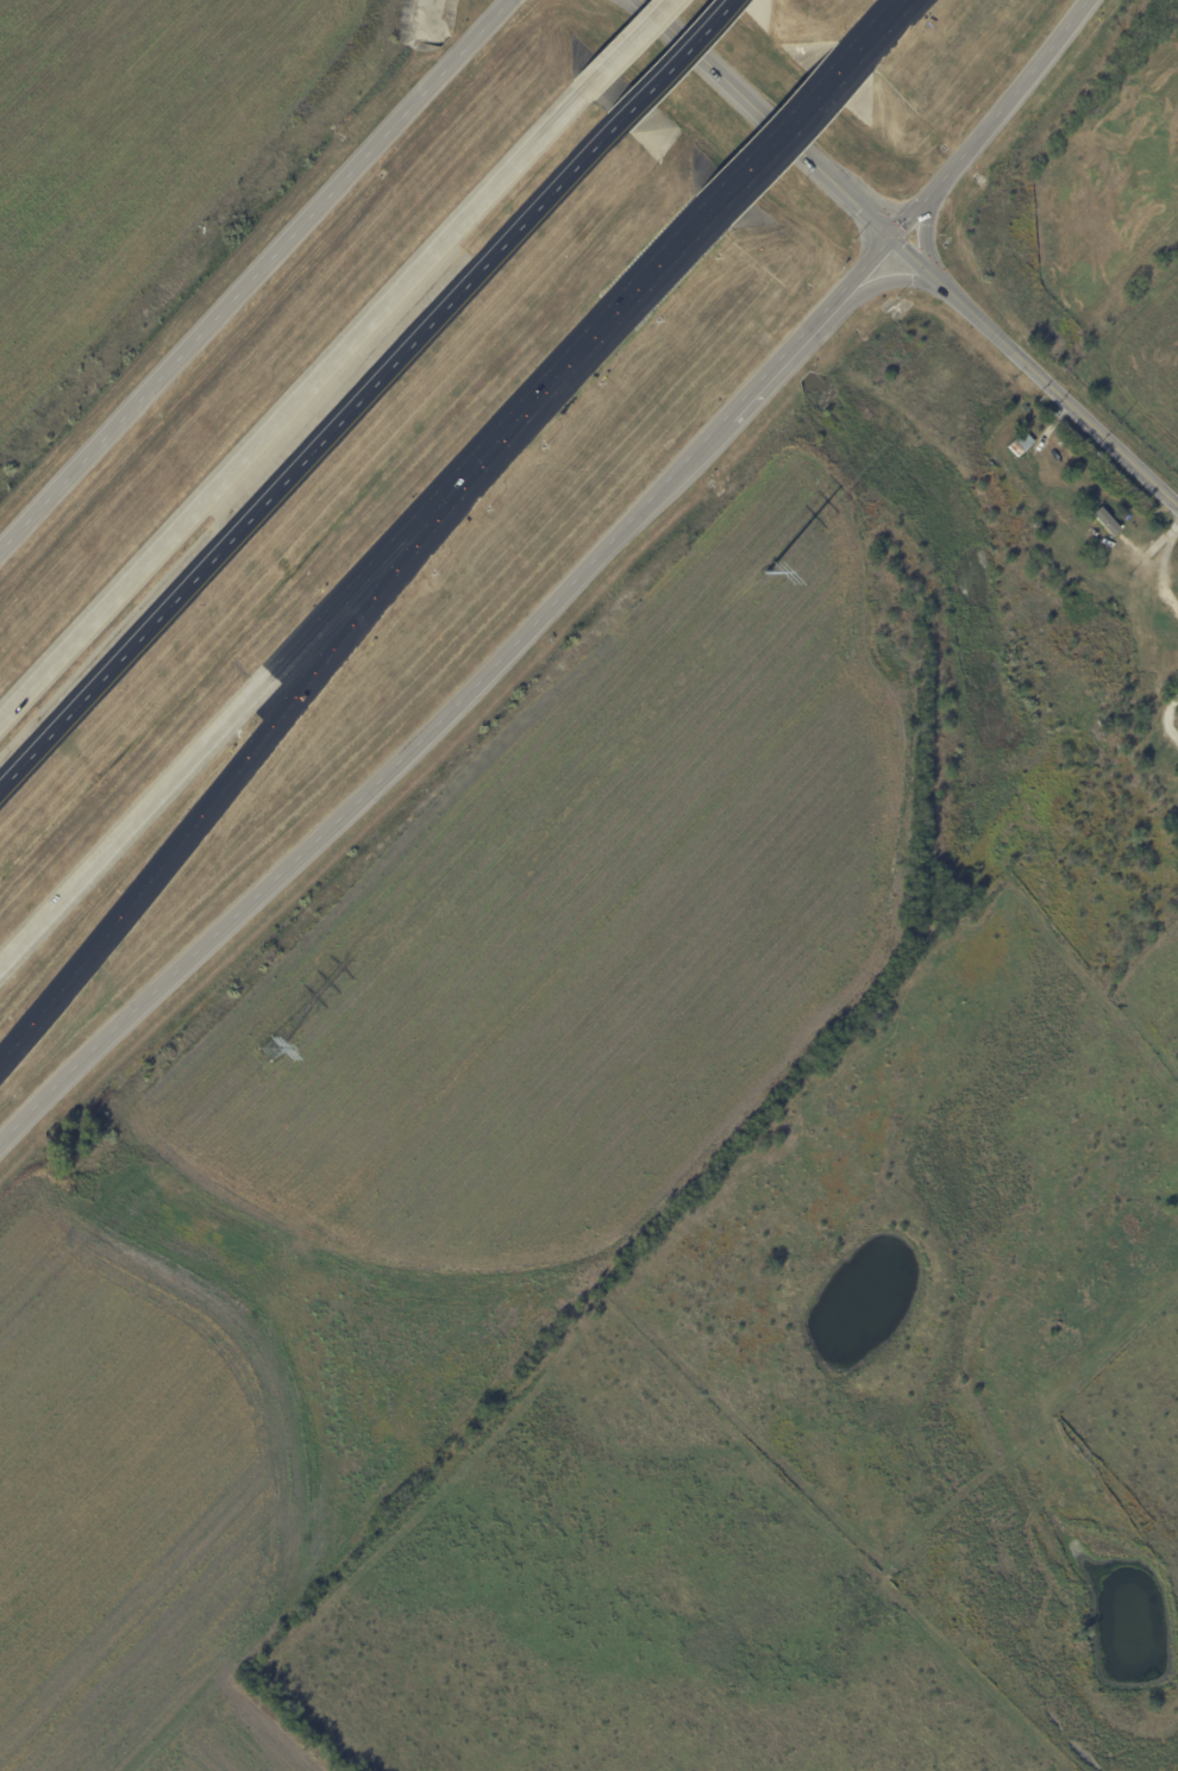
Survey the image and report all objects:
road: (881, 24)
road: (627, 45)
road: (672, 62)
road: (990, 121)
road: (781, 132)
road: (923, 239)
road: (906, 256)
road: (860, 269)
road: (885, 280)
road: (255, 283)
road: (625, 301)
road: (757, 380)
road: (292, 399)
building: (1022, 445)
road: (307, 457)
building: (1108, 521)
building: (1040, 528)
power tower: (757, 576)
road: (269, 671)
road: (1173, 703)
road: (276, 727)
road: (347, 807)
power tower: (259, 1050)

